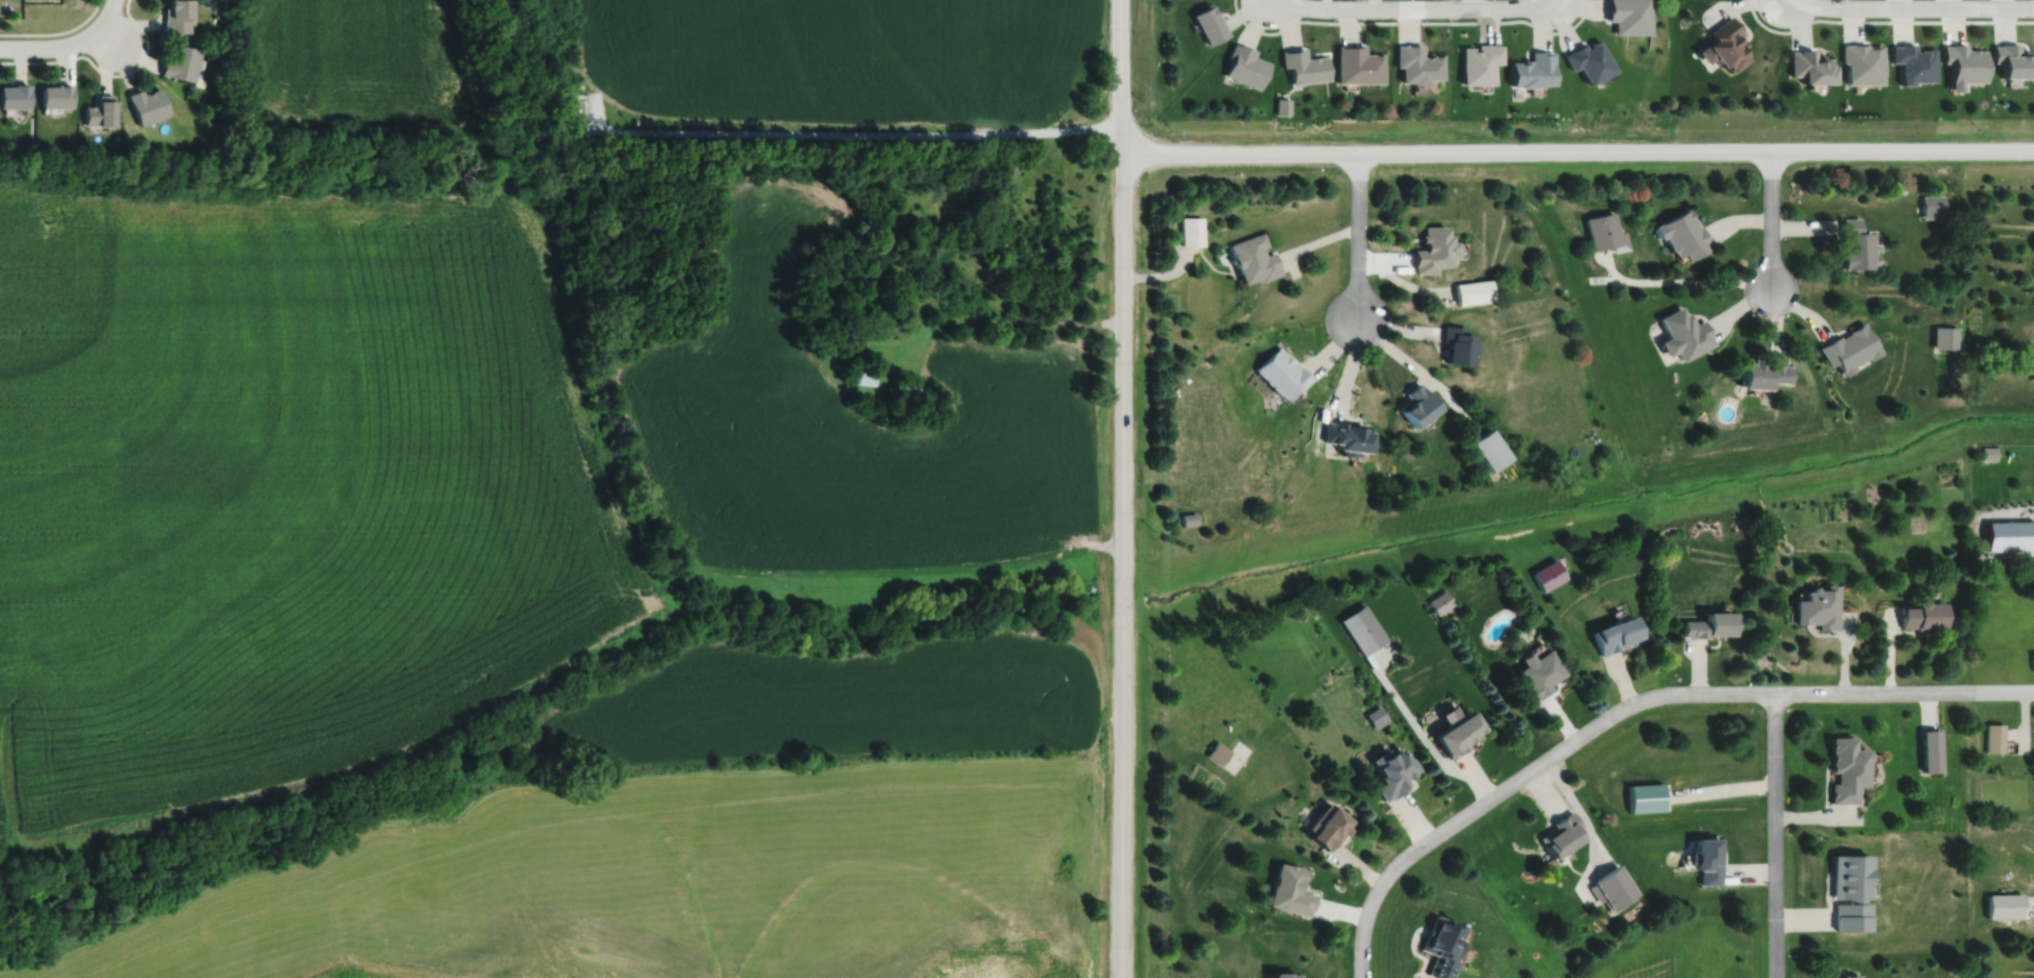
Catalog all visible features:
road: (1775, 2)
road: (1260, 3)
road: (1562, 3)
road: (111, 4)
road: (1411, 7)
road: (1904, 7)
building: (176, 15)
building: (1628, 16)
road: (1881, 21)
road: (1410, 22)
building: (1208, 25)
road: (56, 31)
building: (224, 34)
road: (107, 36)
road: (62, 44)
building: (1722, 46)
building: (179, 59)
crop: (348, 61)
crop: (828, 62)
building: (1588, 62)
building: (2013, 62)
building: (1911, 64)
building: (1477, 65)
building: (1860, 65)
building: (1356, 66)
building: (1416, 66)
building: (1962, 66)
building: (1245, 67)
building: (1303, 67)
building: (1807, 69)
building: (1530, 71)
road: (104, 72)
building: (13, 93)
building: (55, 93)
building: (146, 103)
building: (575, 105)
building: (99, 109)
road: (839, 133)
road: (1577, 150)
building: (1933, 205)
road: (1770, 220)
building: (1191, 230)
building: (1605, 231)
building: (1682, 233)
road: (1357, 234)
building: (1855, 244)
building: (1432, 249)
building: (1253, 257)
building: (1472, 291)
road: (982, 320)
building: (1683, 332)
building: (1945, 337)
building: (1453, 344)
building: (1849, 348)
building: (863, 371)
building: (1281, 372)
building: (1761, 374)
building: (905, 388)
building: (1414, 405)
crop: (858, 425)
building: (1346, 436)
building: (1490, 449)
building: (1988, 453)
crop: (281, 487)
road: (1121, 488)
building: (1185, 520)
building: (2010, 536)
building: (1548, 575)
building: (1440, 602)
building: (1817, 608)
building: (1921, 617)
building: (1362, 626)
building: (1707, 627)
building: (1615, 636)
building: (1539, 675)
road: (1669, 693)
building: (1376, 714)
building: (1457, 732)
building: (1993, 736)
building: (1929, 748)
building: (1217, 751)
building: (1844, 767)
building: (1392, 769)
building: (2002, 791)
building: (1644, 795)
building: (1326, 823)
building: (1559, 832)
road: (1774, 834)
building: (1706, 857)
building: (1611, 886)
building: (1289, 889)
building: (1848, 889)
building: (2002, 904)
road: (1362, 936)
building: (1439, 945)
building: (1282, 974)
building: (1847, 975)

